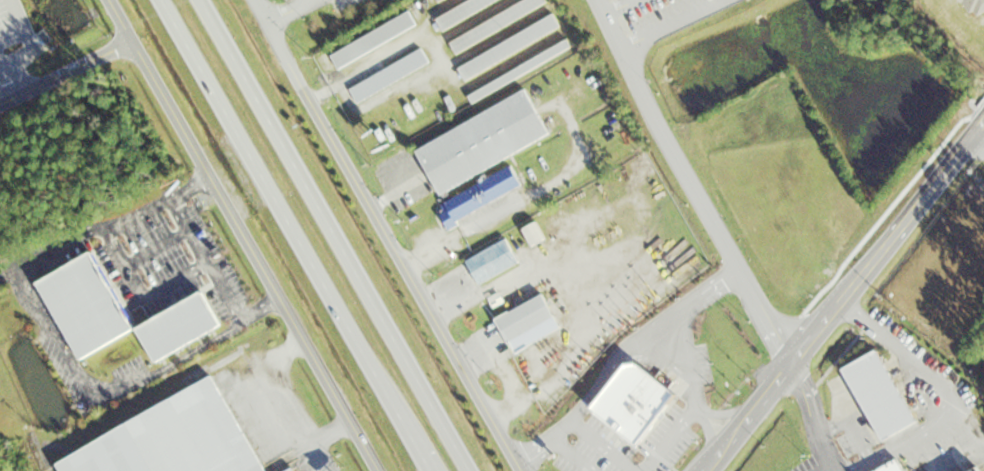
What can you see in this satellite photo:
building: (438, 0)
road: (289, 10)
building: (462, 11)
building: (51, 19)
building: (496, 24)
road: (673, 24)
building: (373, 40)
building: (509, 47)
building: (527, 66)
road: (66, 71)
building: (387, 81)
road: (665, 137)
road: (979, 141)
building: (482, 142)
building: (481, 195)
road: (913, 214)
road: (286, 216)
road: (244, 235)
road: (336, 235)
road: (388, 236)
building: (492, 261)
building: (116, 313)
road: (765, 316)
building: (524, 318)
road: (816, 332)
building: (682, 391)
road: (808, 393)
road: (760, 402)
building: (171, 439)
road: (823, 449)
road: (420, 452)
road: (717, 456)
building: (892, 467)
building: (292, 469)
building: (978, 469)

